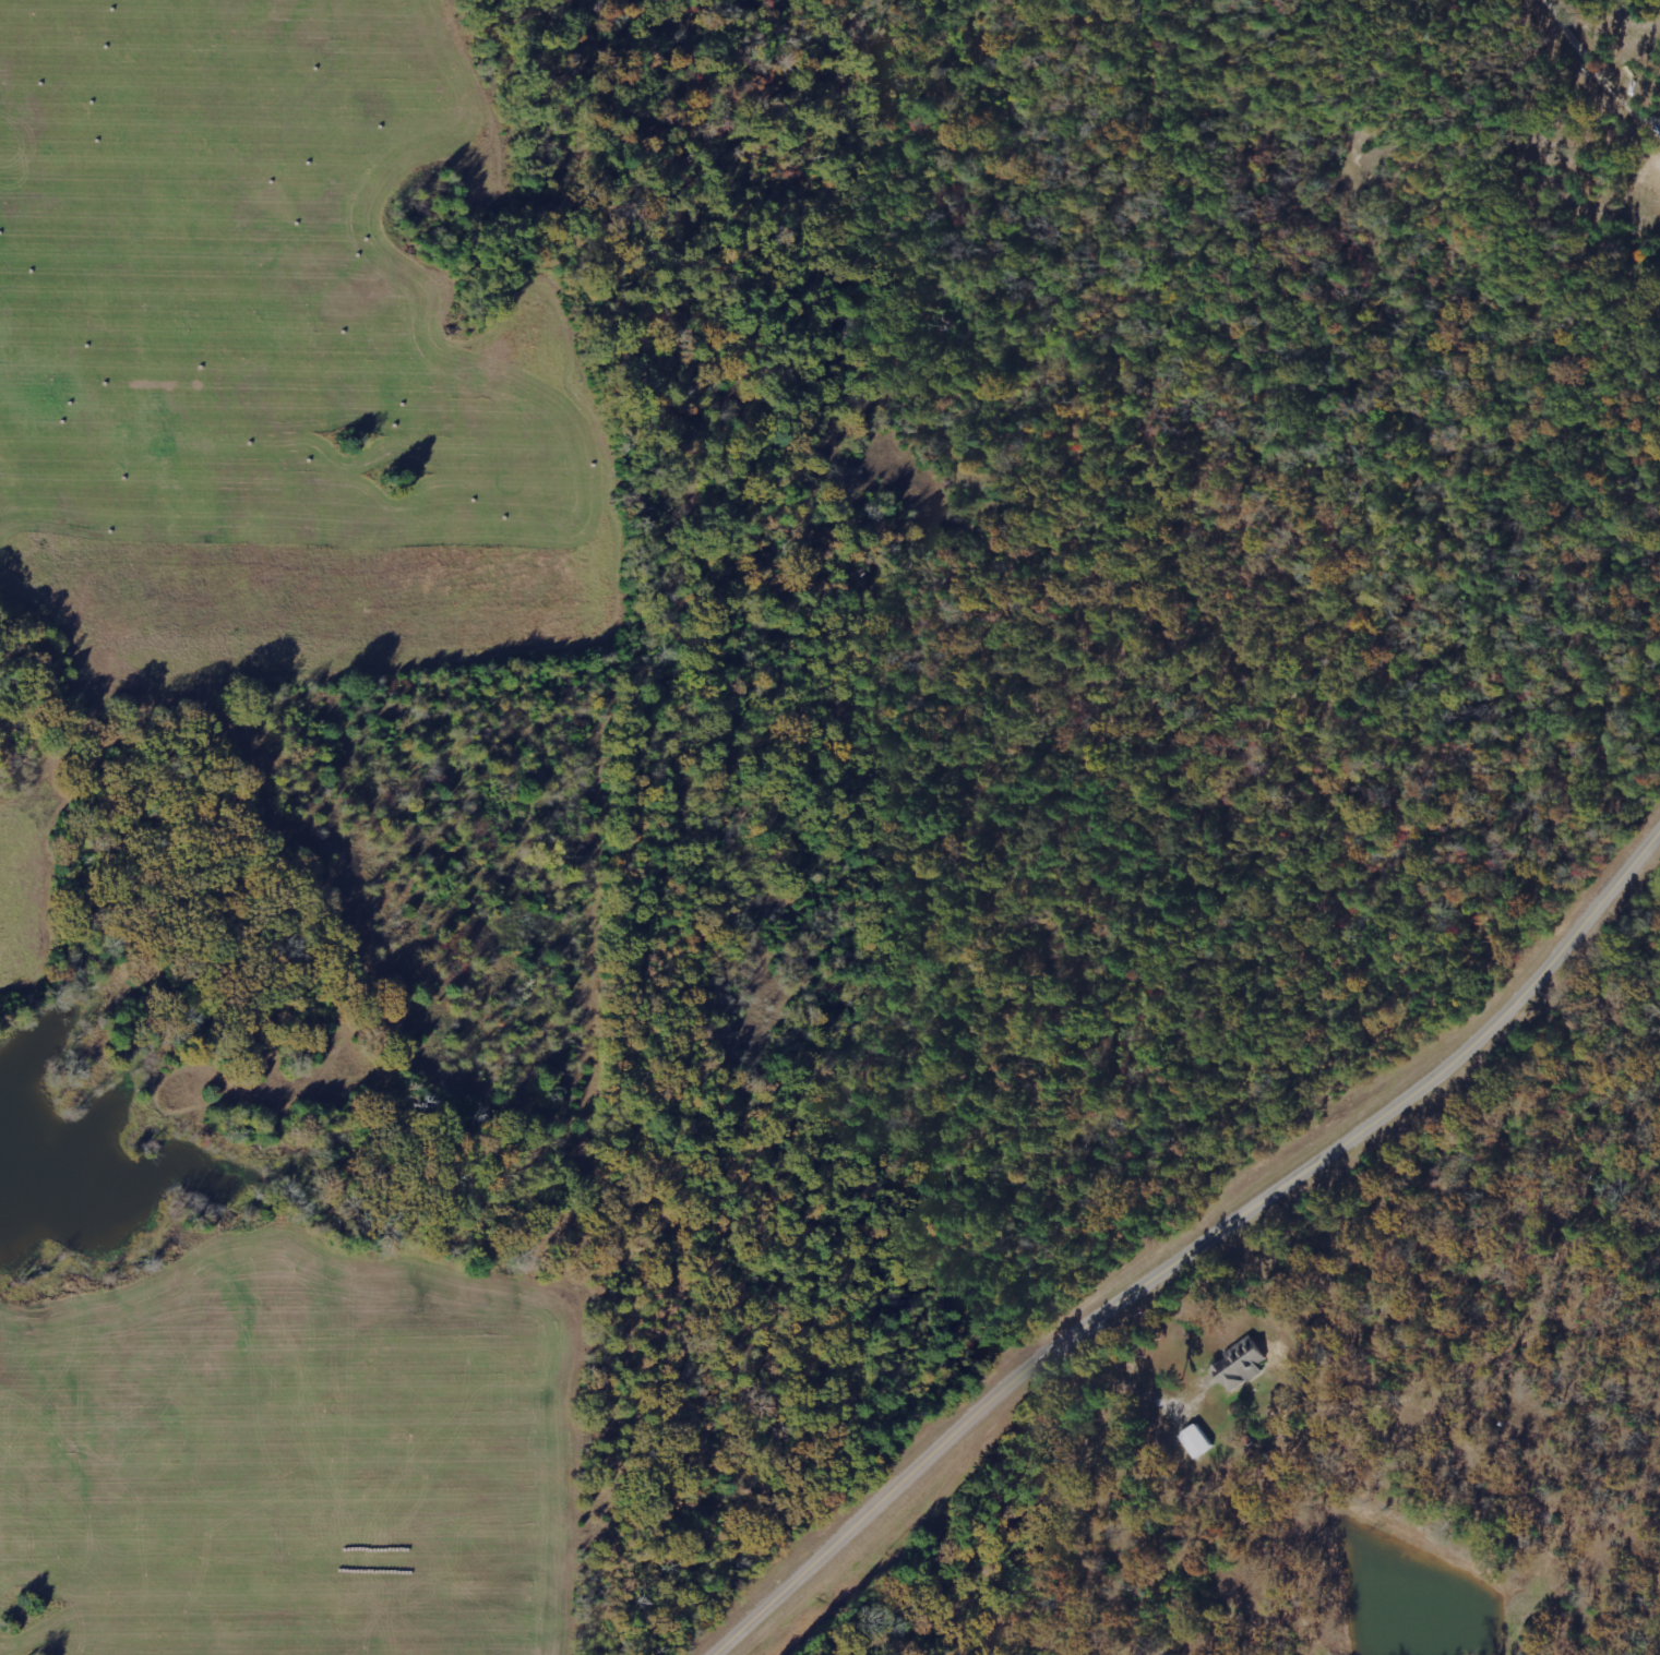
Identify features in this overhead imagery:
road: (1193, 1247)
building: (1244, 1367)

